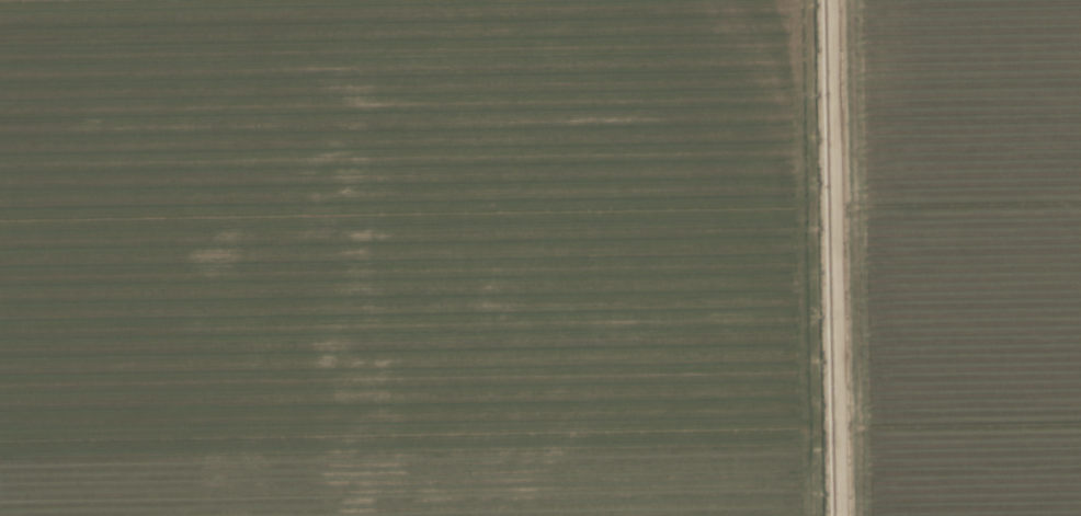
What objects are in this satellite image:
crop: (414, 259)

